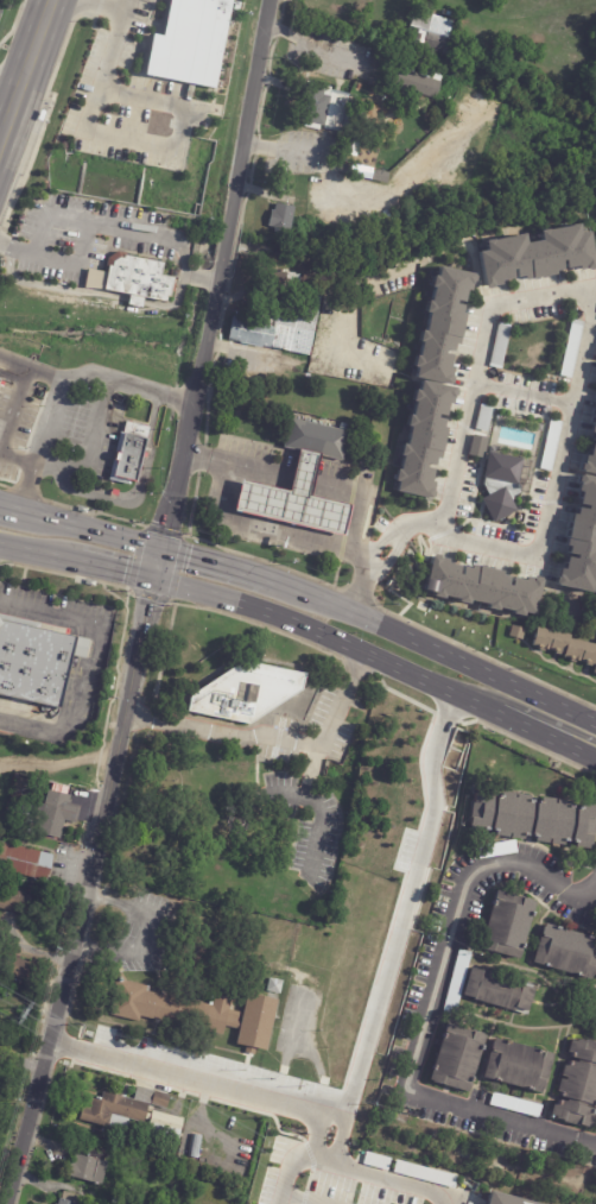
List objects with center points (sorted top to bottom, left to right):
road: (110, 7)
building: (436, 29)
building: (192, 44)
road: (311, 44)
building: (378, 57)
road: (28, 62)
building: (412, 80)
railway: (28, 81)
road: (9, 84)
building: (443, 89)
building: (325, 107)
road: (248, 113)
road: (4, 133)
road: (132, 143)
building: (368, 172)
building: (280, 216)
road: (84, 235)
road: (223, 248)
building: (534, 256)
road: (182, 259)
road: (397, 267)
building: (139, 278)
road: (197, 278)
building: (277, 278)
road: (214, 282)
road: (94, 292)
building: (443, 324)
building: (275, 327)
building: (499, 345)
building: (570, 348)
road: (478, 368)
road: (95, 379)
road: (528, 393)
building: (315, 436)
building: (421, 439)
road: (39, 443)
building: (549, 445)
building: (476, 446)
building: (590, 447)
road: (90, 448)
building: (132, 454)
road: (17, 459)
building: (367, 464)
road: (230, 465)
road: (298, 481)
building: (499, 485)
road: (342, 492)
building: (291, 497)
road: (1, 506)
road: (556, 506)
road: (232, 523)
road: (404, 523)
road: (427, 524)
road: (82, 528)
road: (361, 529)
road: (408, 530)
building: (581, 537)
road: (375, 541)
traffic signals: (161, 548)
road: (334, 551)
road: (39, 553)
road: (389, 555)
road: (215, 561)
road: (116, 569)
traffic signals: (154, 579)
road: (361, 588)
building: (489, 594)
road: (45, 613)
building: (515, 632)
road: (326, 635)
building: (563, 647)
road: (432, 650)
building: (38, 663)
building: (243, 693)
road: (77, 710)
parking lot: (335, 716)
road: (531, 732)
road: (120, 739)
road: (272, 740)
road: (583, 746)
road: (583, 755)
road: (315, 807)
building: (59, 814)
building: (531, 819)
building: (11, 822)
parking lot: (307, 824)
building: (26, 862)
building: (21, 902)
road: (400, 924)
building: (503, 926)
building: (564, 952)
building: (15, 969)
building: (456, 977)
building: (271, 986)
building: (493, 991)
road: (424, 1010)
power tower: (19, 1011)
building: (191, 1011)
building: (1, 1017)
building: (454, 1058)
building: (514, 1065)
road: (175, 1077)
building: (573, 1084)
building: (514, 1104)
building: (133, 1112)
road: (310, 1133)
building: (129, 1142)
building: (195, 1146)
building: (375, 1160)
road: (286, 1165)
building: (88, 1166)
building: (424, 1173)
road: (383, 1178)
road: (376, 1190)
building: (69, 1198)
road: (294, 1198)
building: (118, 1199)
building: (495, 1199)
building: (258, 1203)

